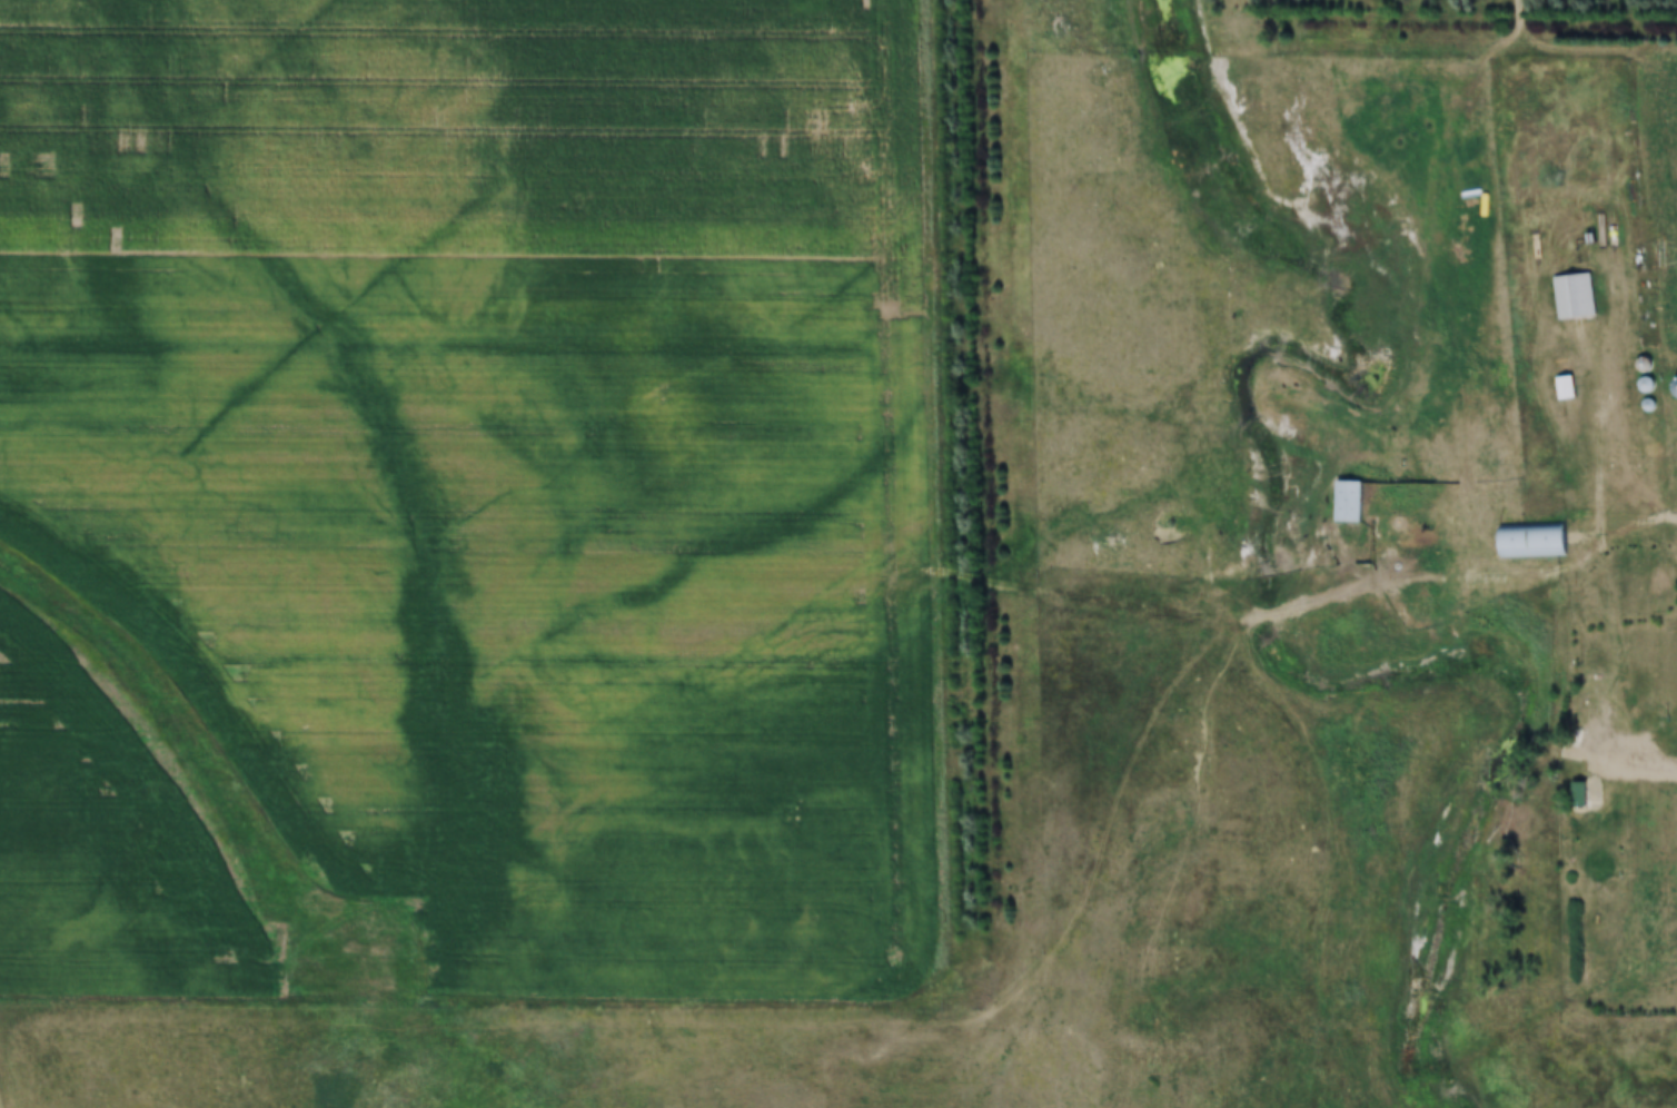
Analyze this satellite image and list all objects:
building: (1574, 296)
building: (1565, 387)
road: (1602, 438)
building: (1348, 501)
building: (1532, 540)
road: (1351, 587)
building: (1589, 731)
building: (1579, 793)

